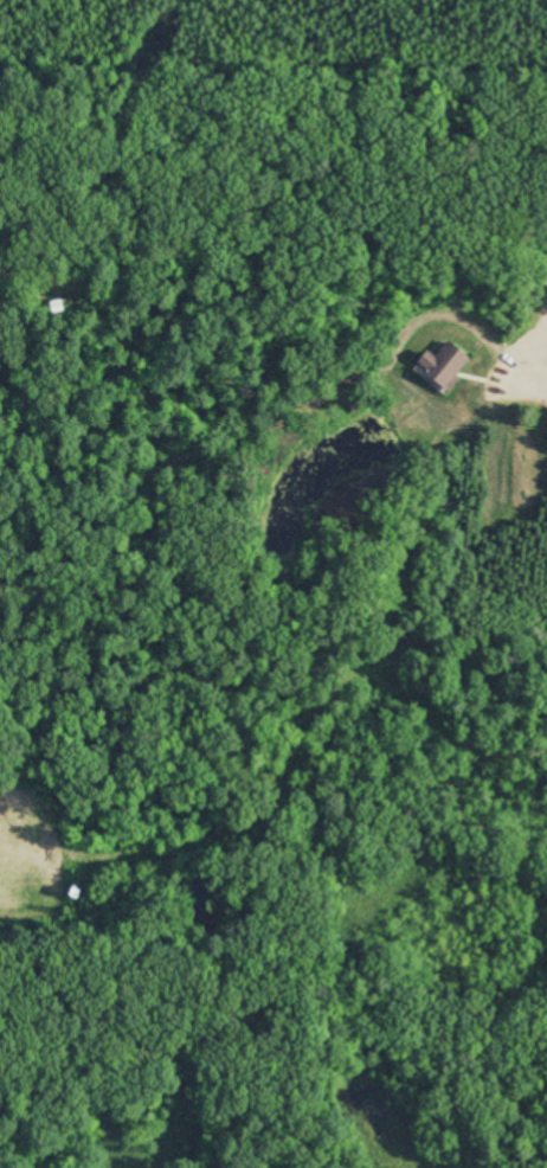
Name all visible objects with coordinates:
building: (56, 306)
building: (443, 365)

